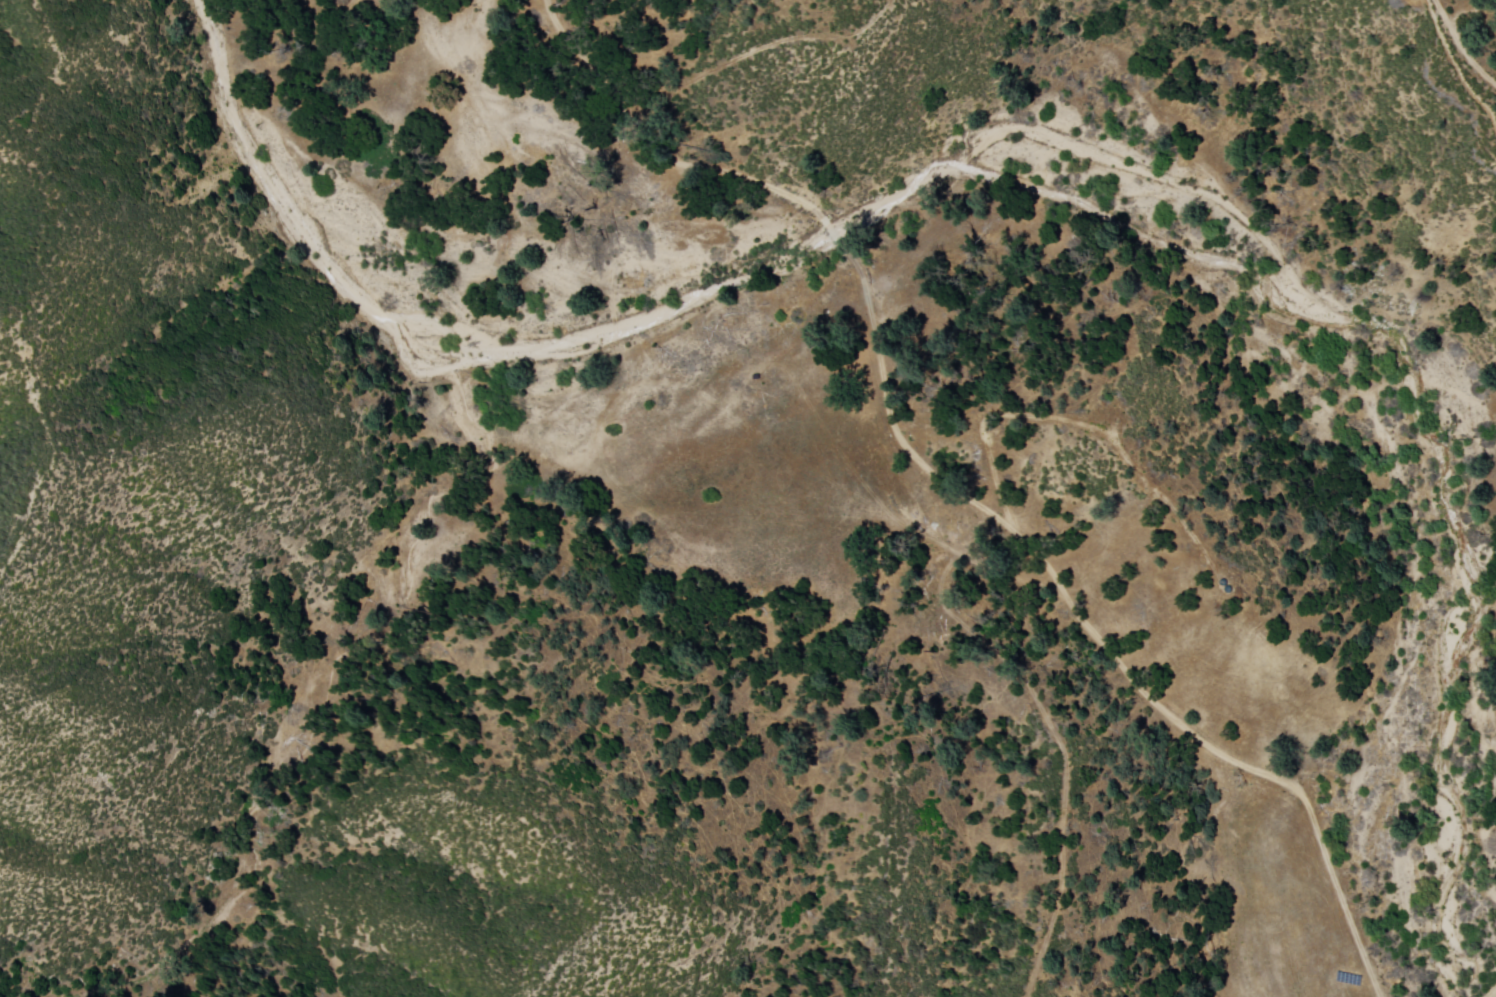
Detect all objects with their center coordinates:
road: (951, 491)

